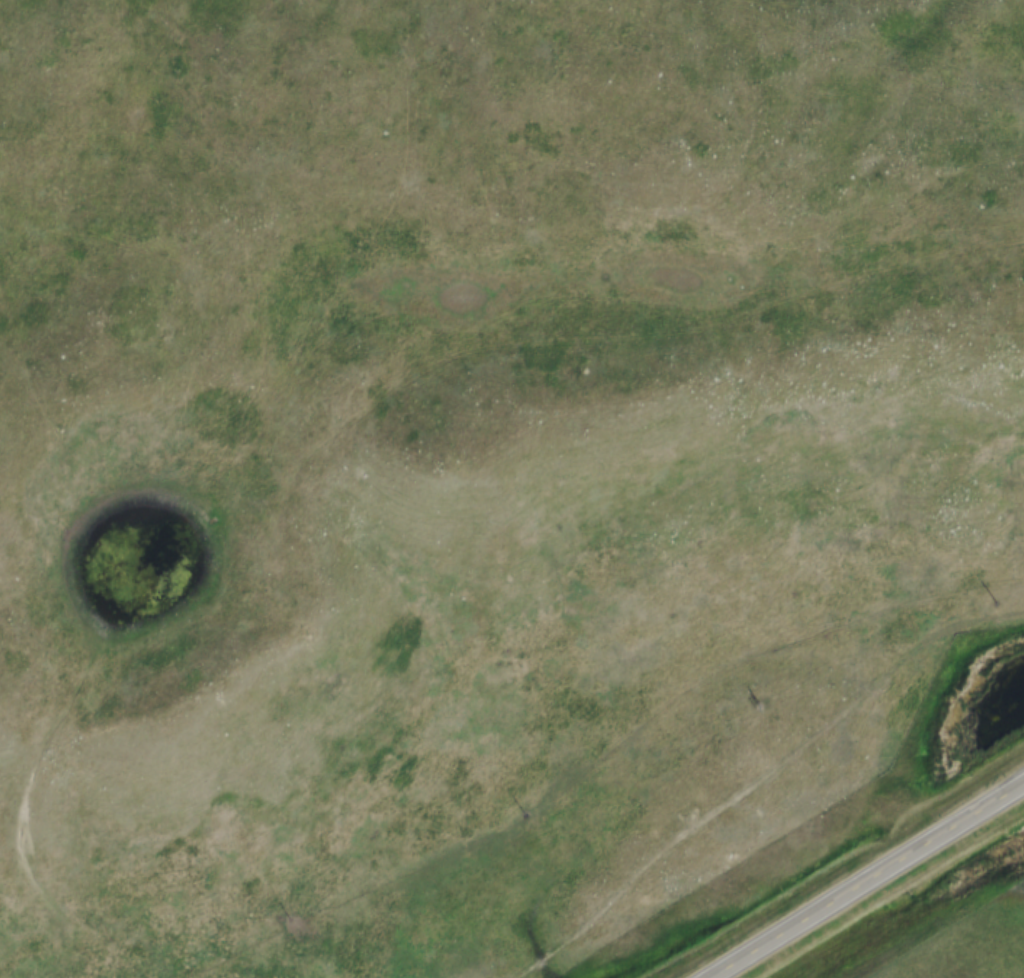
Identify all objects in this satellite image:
road: (869, 884)

